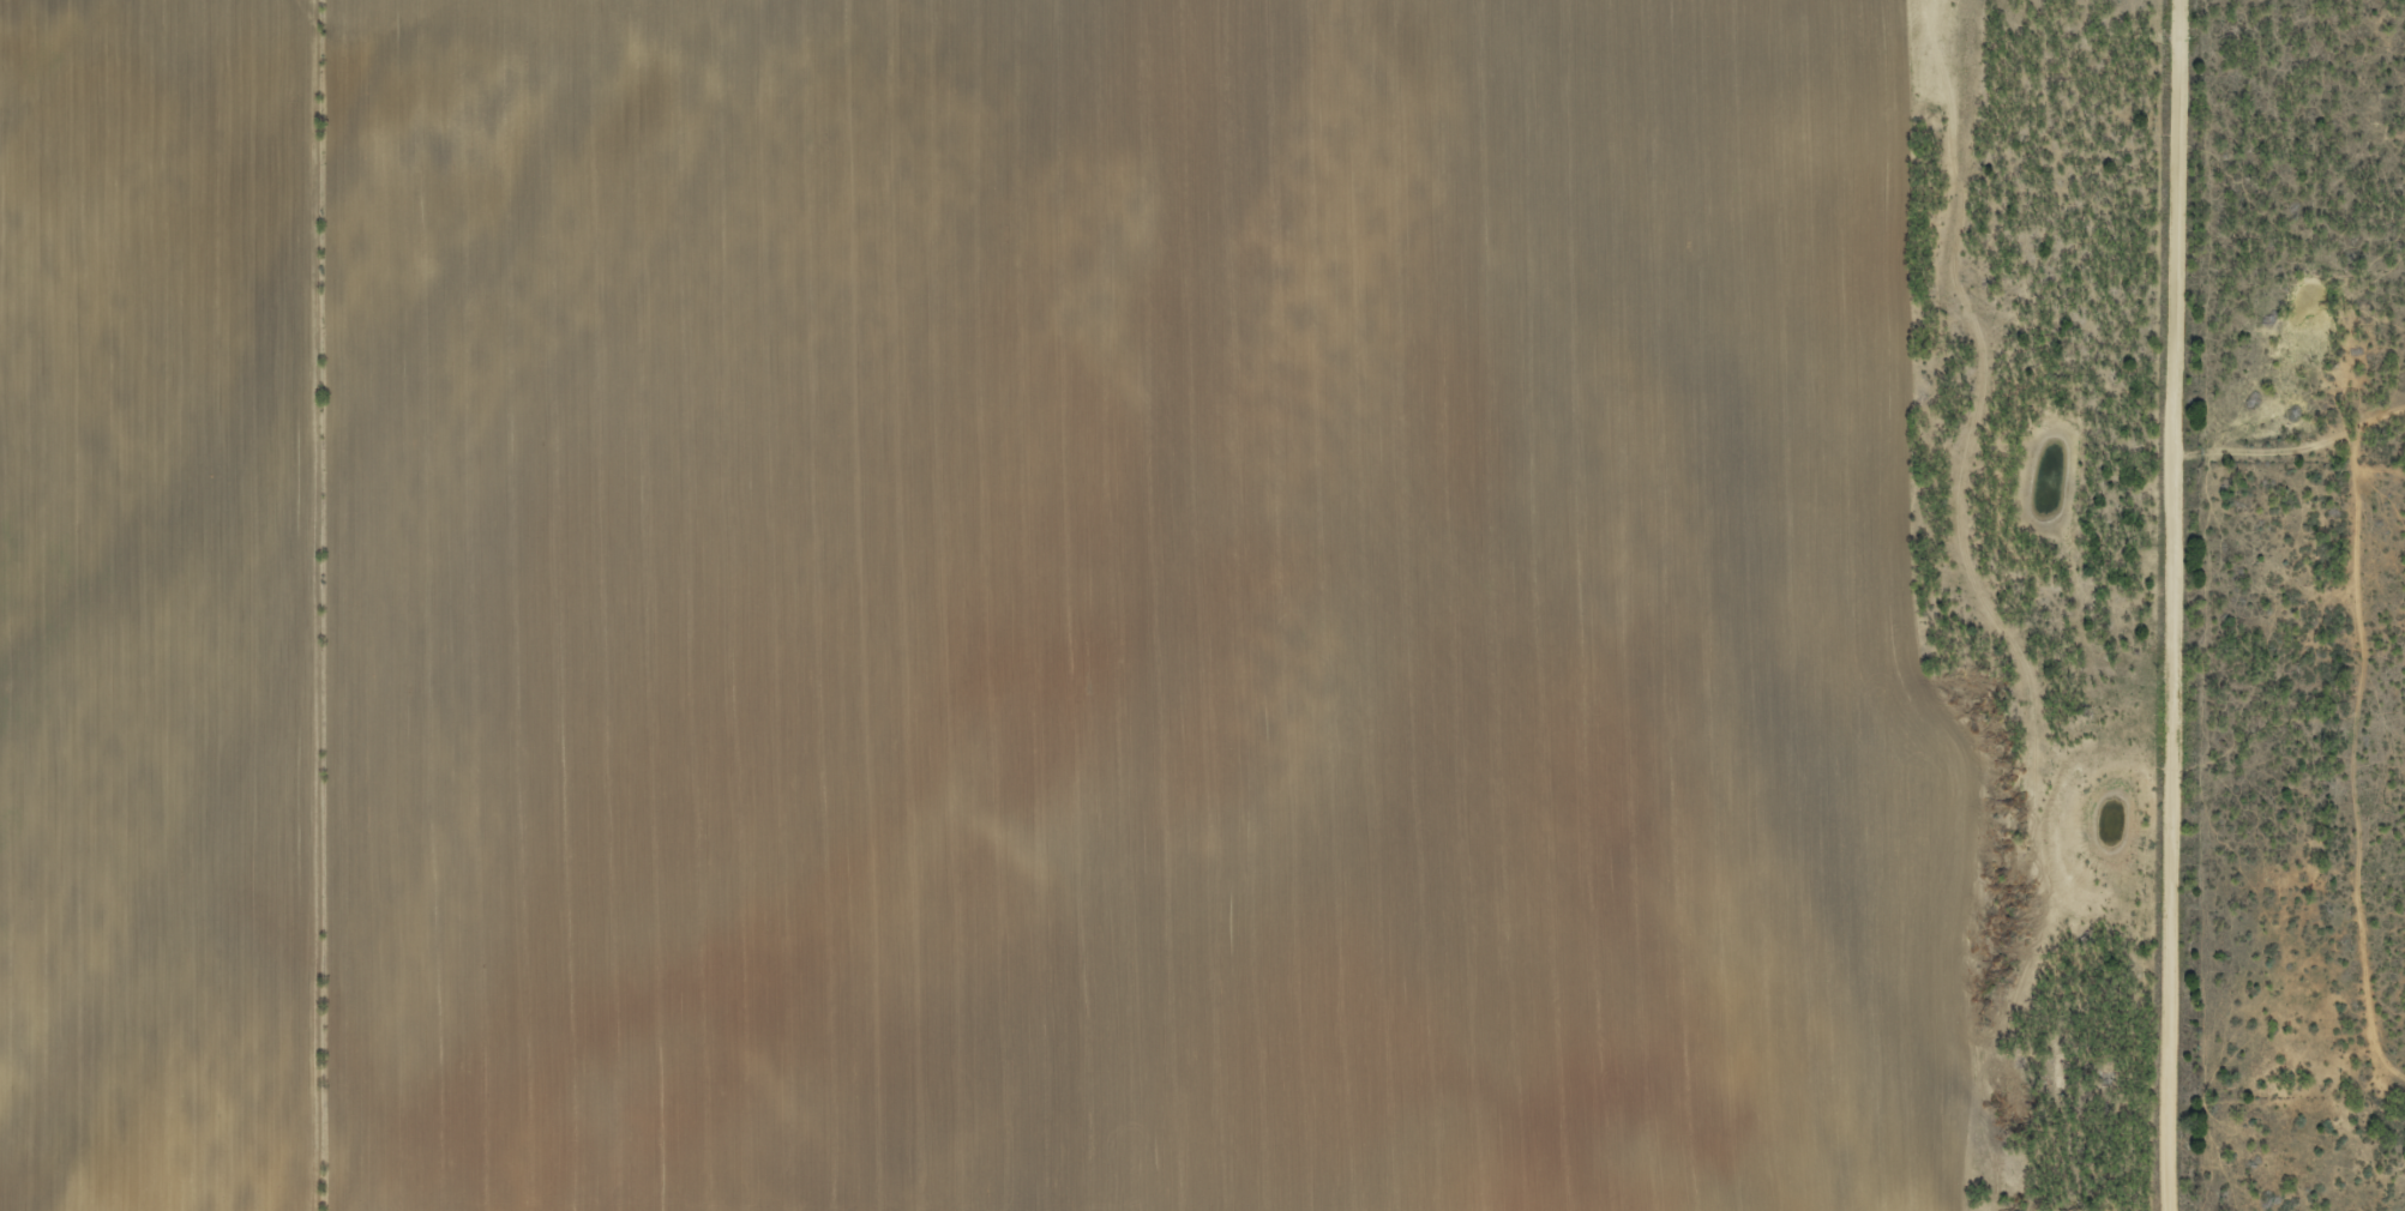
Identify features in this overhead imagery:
road: (2305, 445)
road: (2201, 604)

